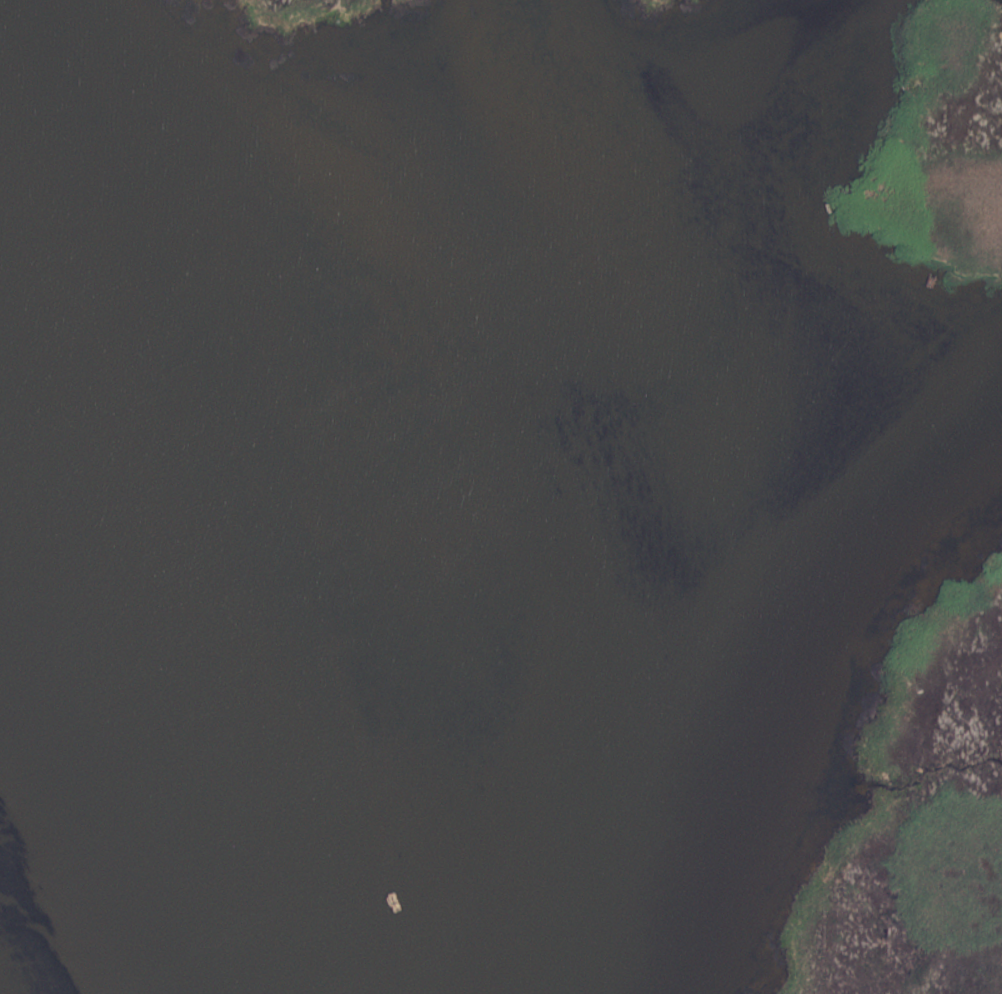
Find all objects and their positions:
river: (129, 813)

